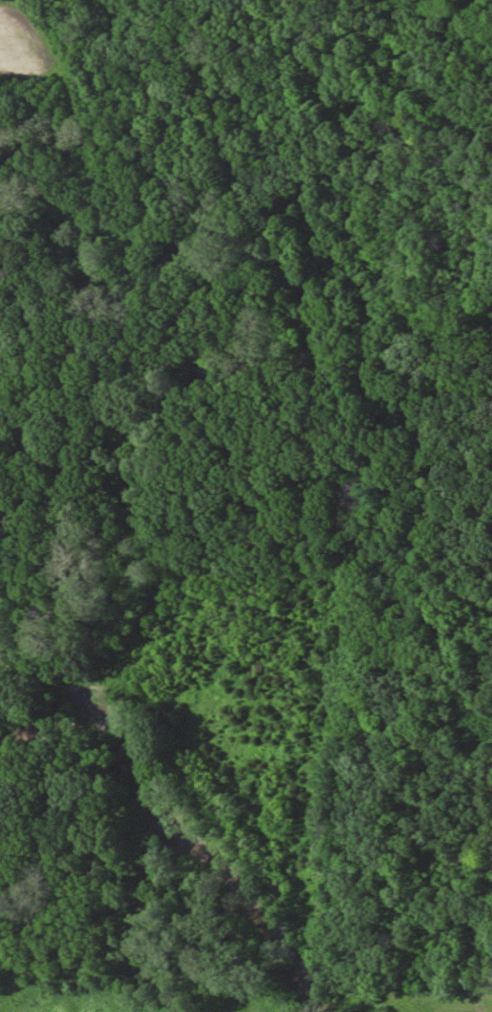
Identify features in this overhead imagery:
river: (168, 830)

